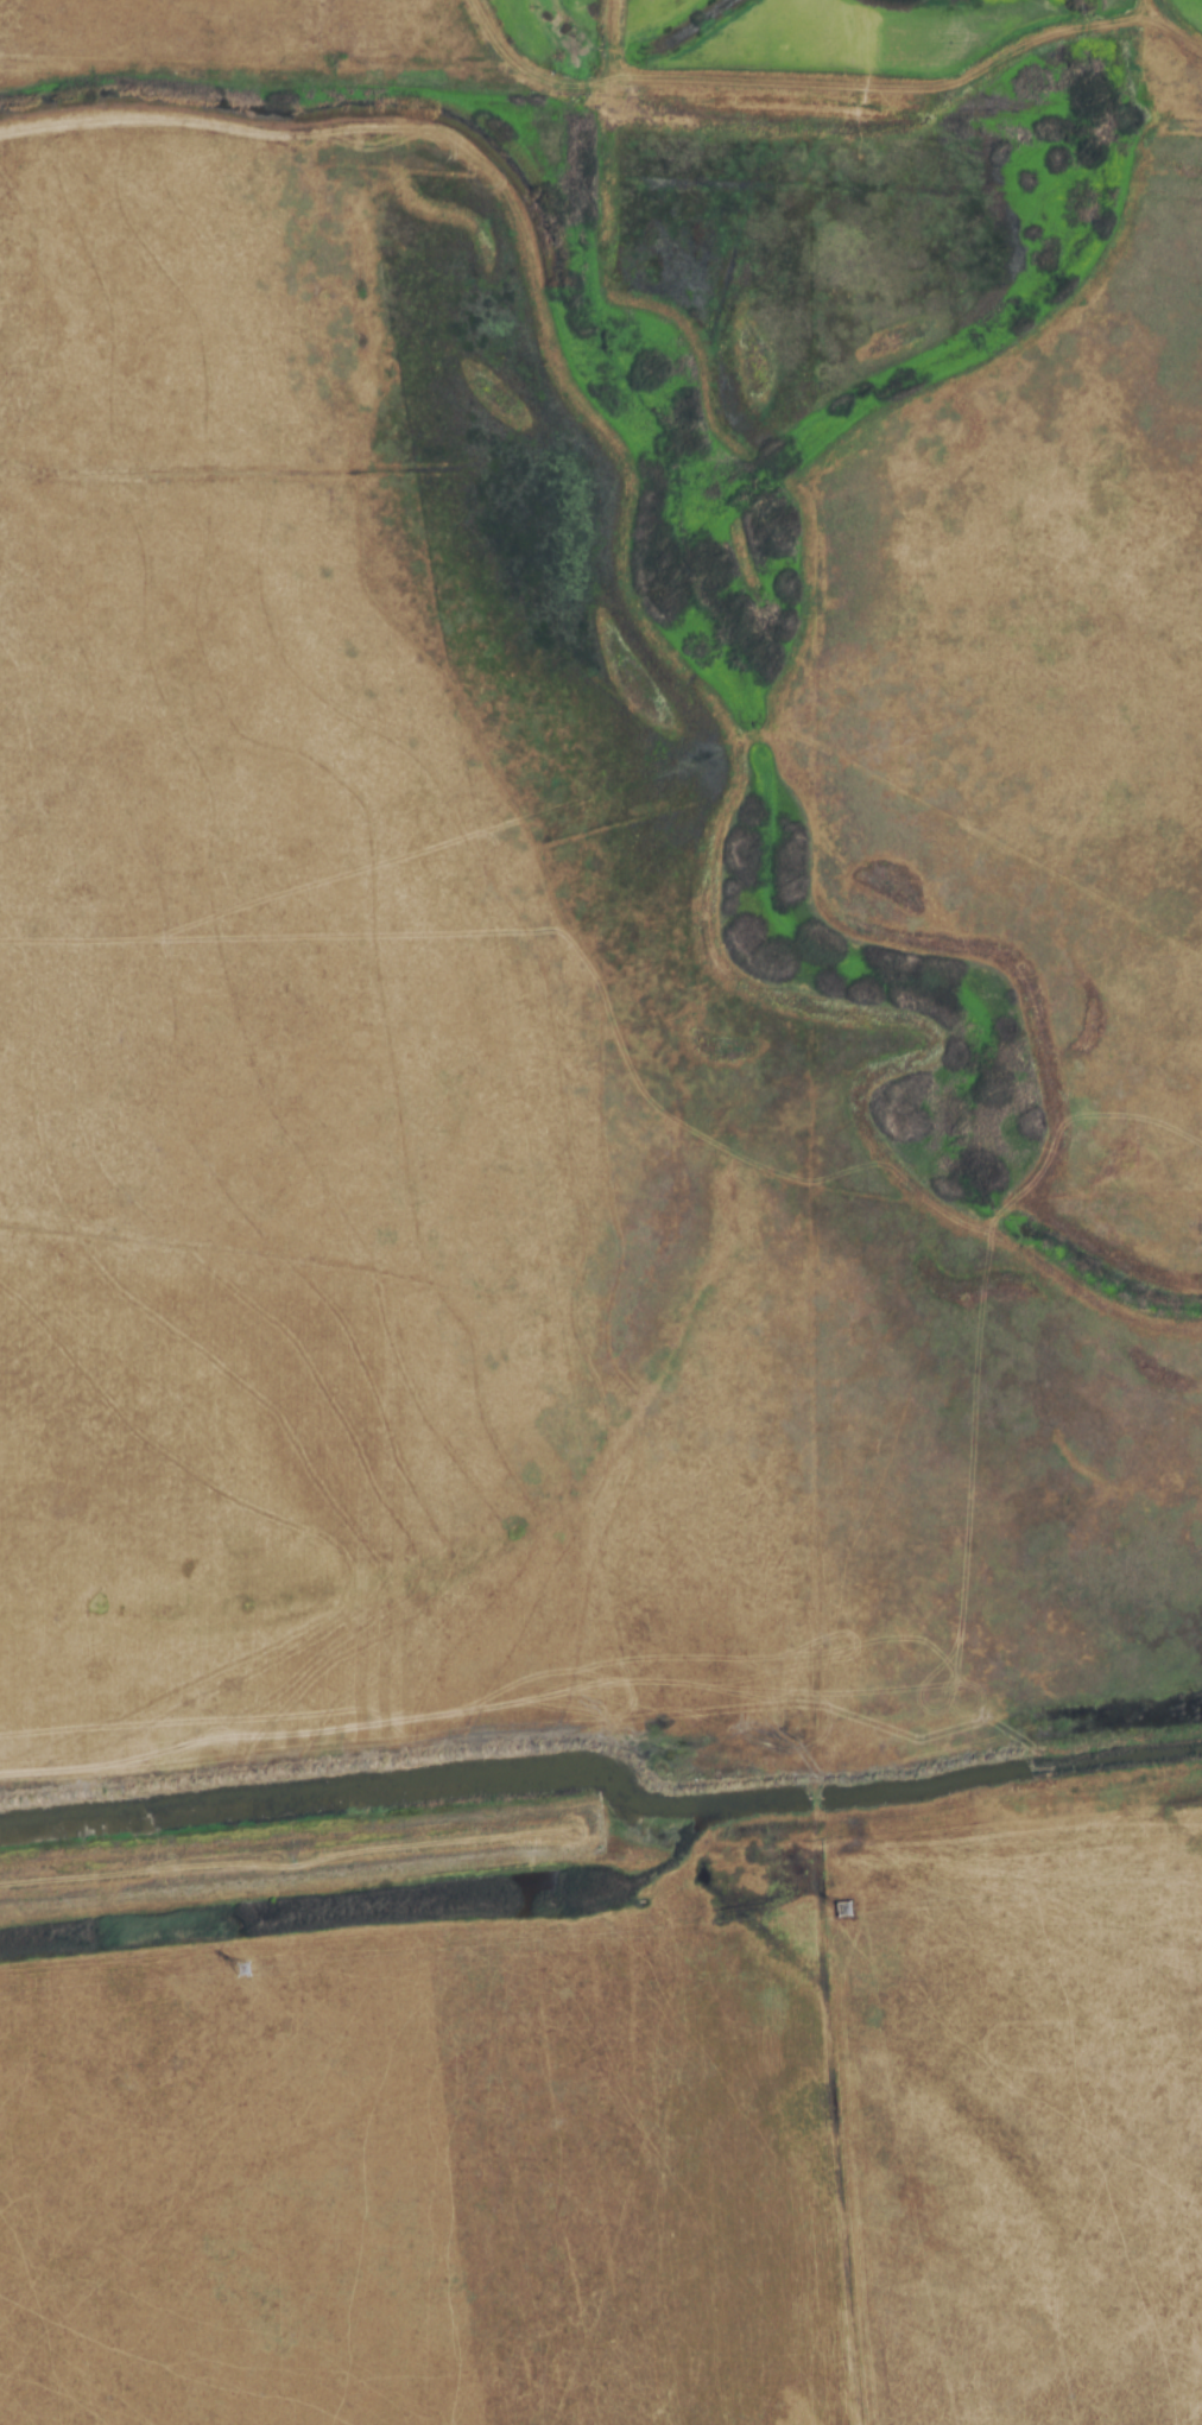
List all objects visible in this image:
power tower: (842, 1913)
power tower: (266, 1973)

